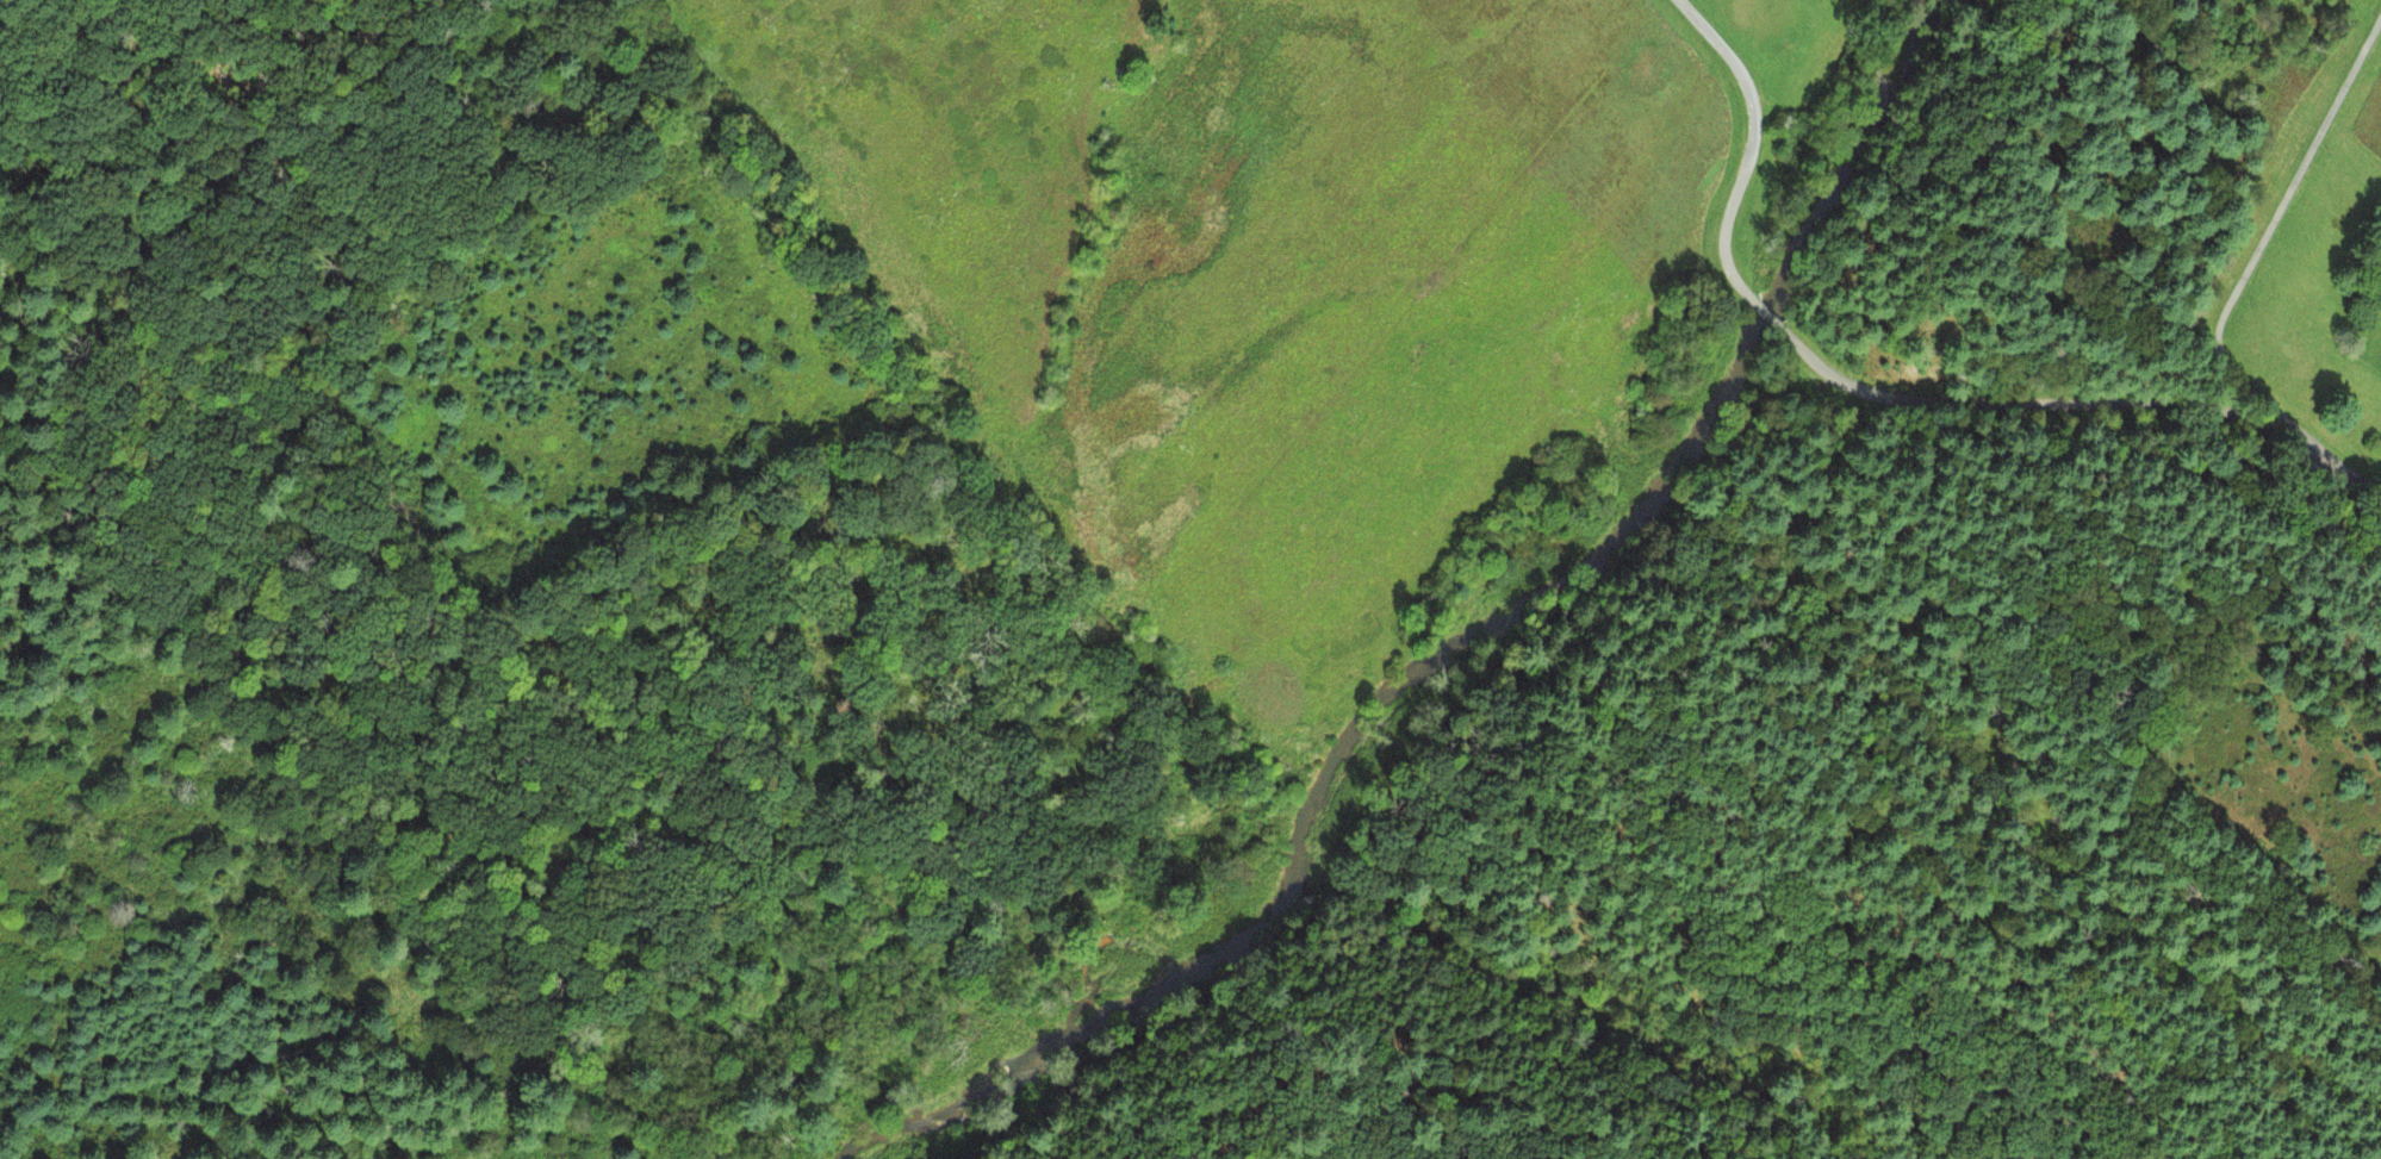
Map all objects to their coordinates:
road: (207, 120)
road: (2263, 236)
building: (2379, 299)
road: (1885, 401)

